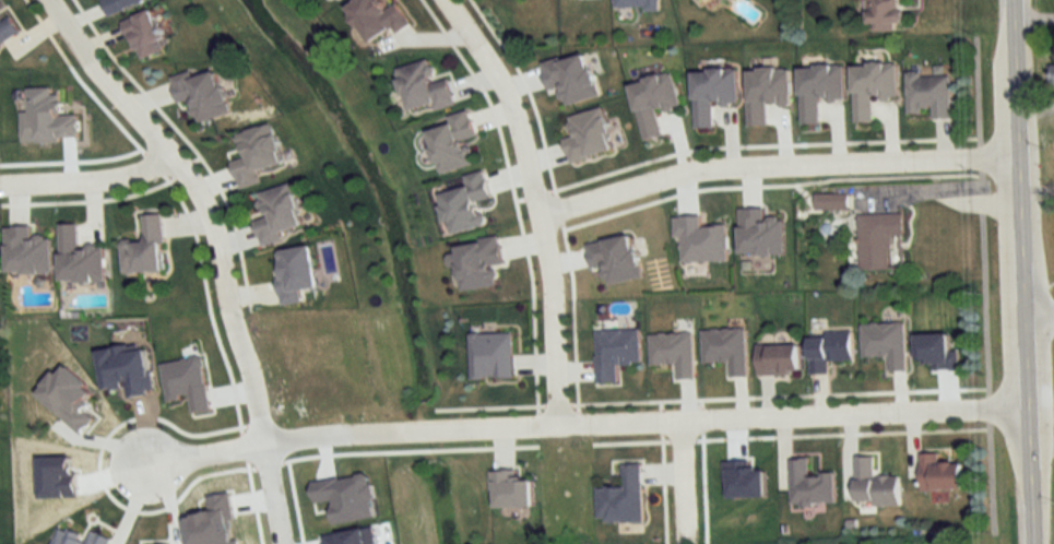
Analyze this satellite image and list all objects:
building: (697, 1)
building: (120, 4)
building: (636, 4)
building: (886, 12)
building: (376, 19)
road: (1031, 21)
building: (7, 29)
building: (143, 35)
building: (1052, 74)
building: (571, 79)
road: (79, 80)
building: (424, 87)
building: (872, 87)
building: (818, 90)
road: (528, 91)
building: (766, 92)
building: (711, 93)
building: (201, 95)
building: (928, 95)
building: (653, 102)
building: (588, 135)
road: (187, 141)
building: (453, 143)
road: (760, 144)
building: (256, 154)
road: (194, 157)
road: (68, 159)
road: (152, 164)
road: (772, 165)
road: (181, 168)
road: (87, 180)
road: (766, 184)
road: (535, 194)
road: (513, 196)
road: (519, 199)
road: (88, 200)
road: (536, 201)
building: (831, 202)
building: (466, 203)
road: (557, 208)
building: (276, 214)
building: (878, 239)
building: (145, 248)
road: (217, 248)
building: (26, 251)
building: (79, 258)
road: (1015, 272)
road: (206, 303)
road: (573, 315)
road: (1035, 317)
building: (886, 344)
building: (828, 351)
building: (674, 353)
building: (616, 354)
building: (777, 360)
road: (949, 389)
road: (986, 390)
road: (739, 397)
road: (699, 403)
road: (556, 404)
road: (659, 404)
road: (488, 406)
road: (986, 406)
road: (659, 419)
road: (700, 419)
road: (596, 422)
road: (987, 424)
road: (879, 430)
road: (732, 437)
road: (680, 438)
road: (629, 441)
road: (1037, 447)
road: (241, 448)
road: (171, 450)
road: (408, 451)
road: (264, 466)
road: (96, 473)
building: (939, 474)
road: (682, 477)
building: (809, 485)
building: (874, 485)
road: (663, 487)
road: (701, 487)
building: (623, 498)
road: (251, 501)
road: (292, 504)

